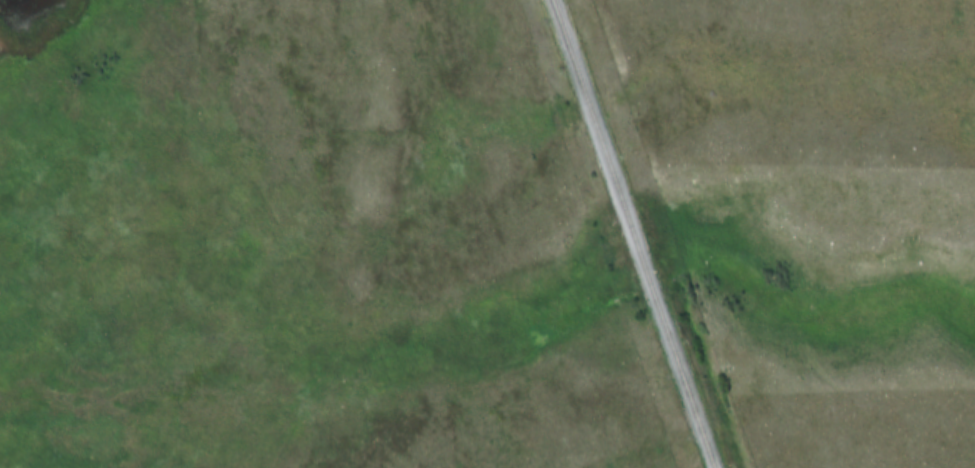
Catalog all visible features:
railway: (623, 235)

